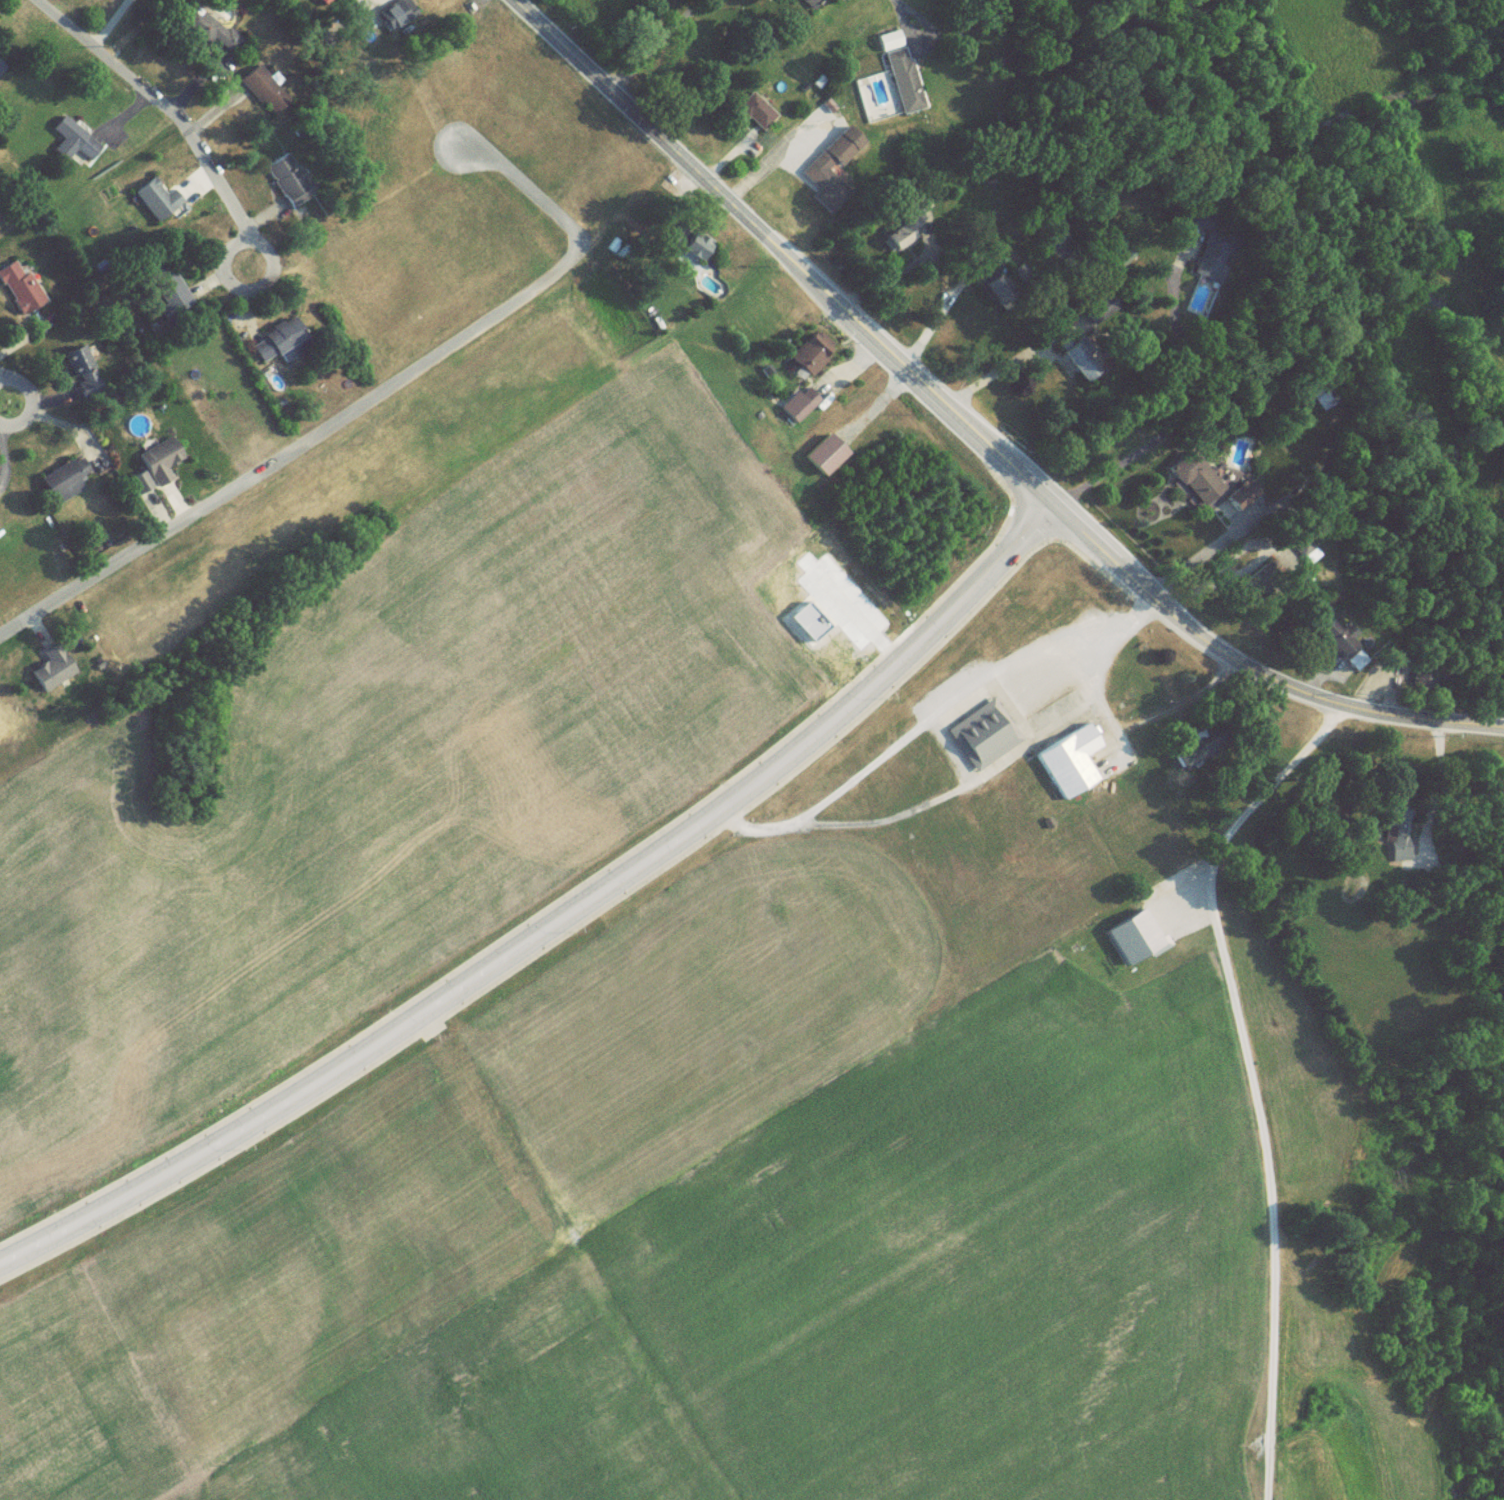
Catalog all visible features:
building: (323, 2)
building: (395, 15)
building: (351, 17)
road: (903, 17)
road: (107, 22)
building: (207, 29)
road: (659, 46)
building: (0, 66)
building: (260, 90)
road: (173, 115)
building: (69, 138)
building: (285, 181)
building: (157, 202)
building: (686, 255)
building: (18, 288)
building: (168, 290)
road: (1072, 332)
building: (279, 344)
building: (1073, 366)
building: (81, 374)
road: (4, 402)
road: (355, 404)
building: (803, 407)
road: (969, 435)
building: (159, 463)
building: (64, 482)
building: (138, 486)
road: (1196, 558)
building: (52, 672)
building: (1423, 680)
road: (927, 718)
crop: (413, 766)
building: (1067, 767)
road: (1433, 790)
building: (1397, 842)
road: (550, 923)
road: (1251, 1085)
crop: (697, 1237)

